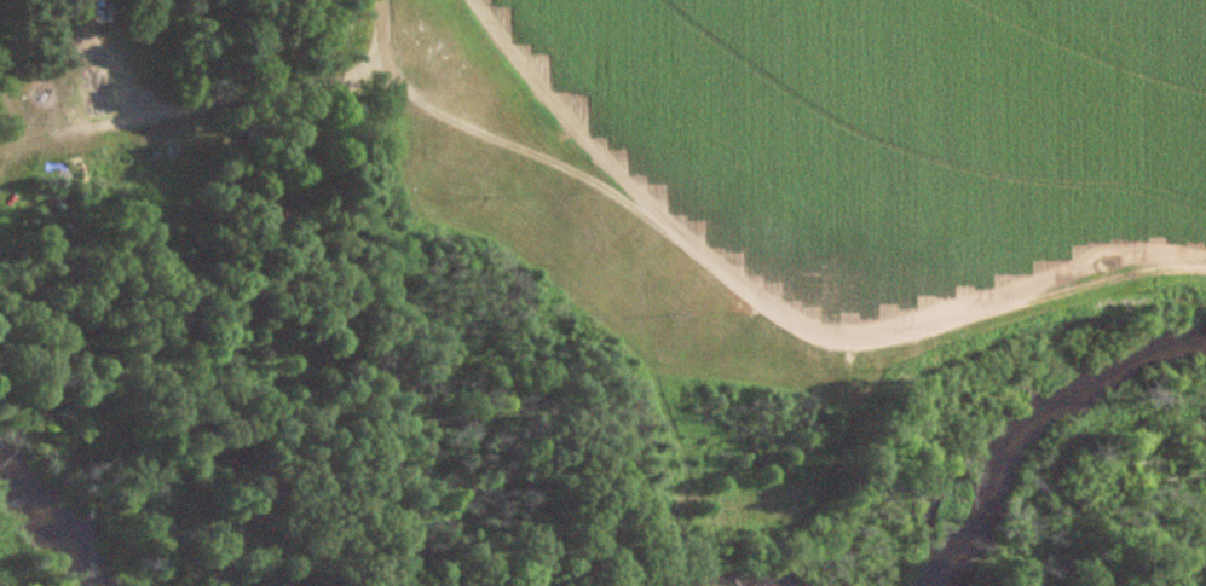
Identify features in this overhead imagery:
road: (364, 30)
river: (1044, 430)
river: (57, 521)

